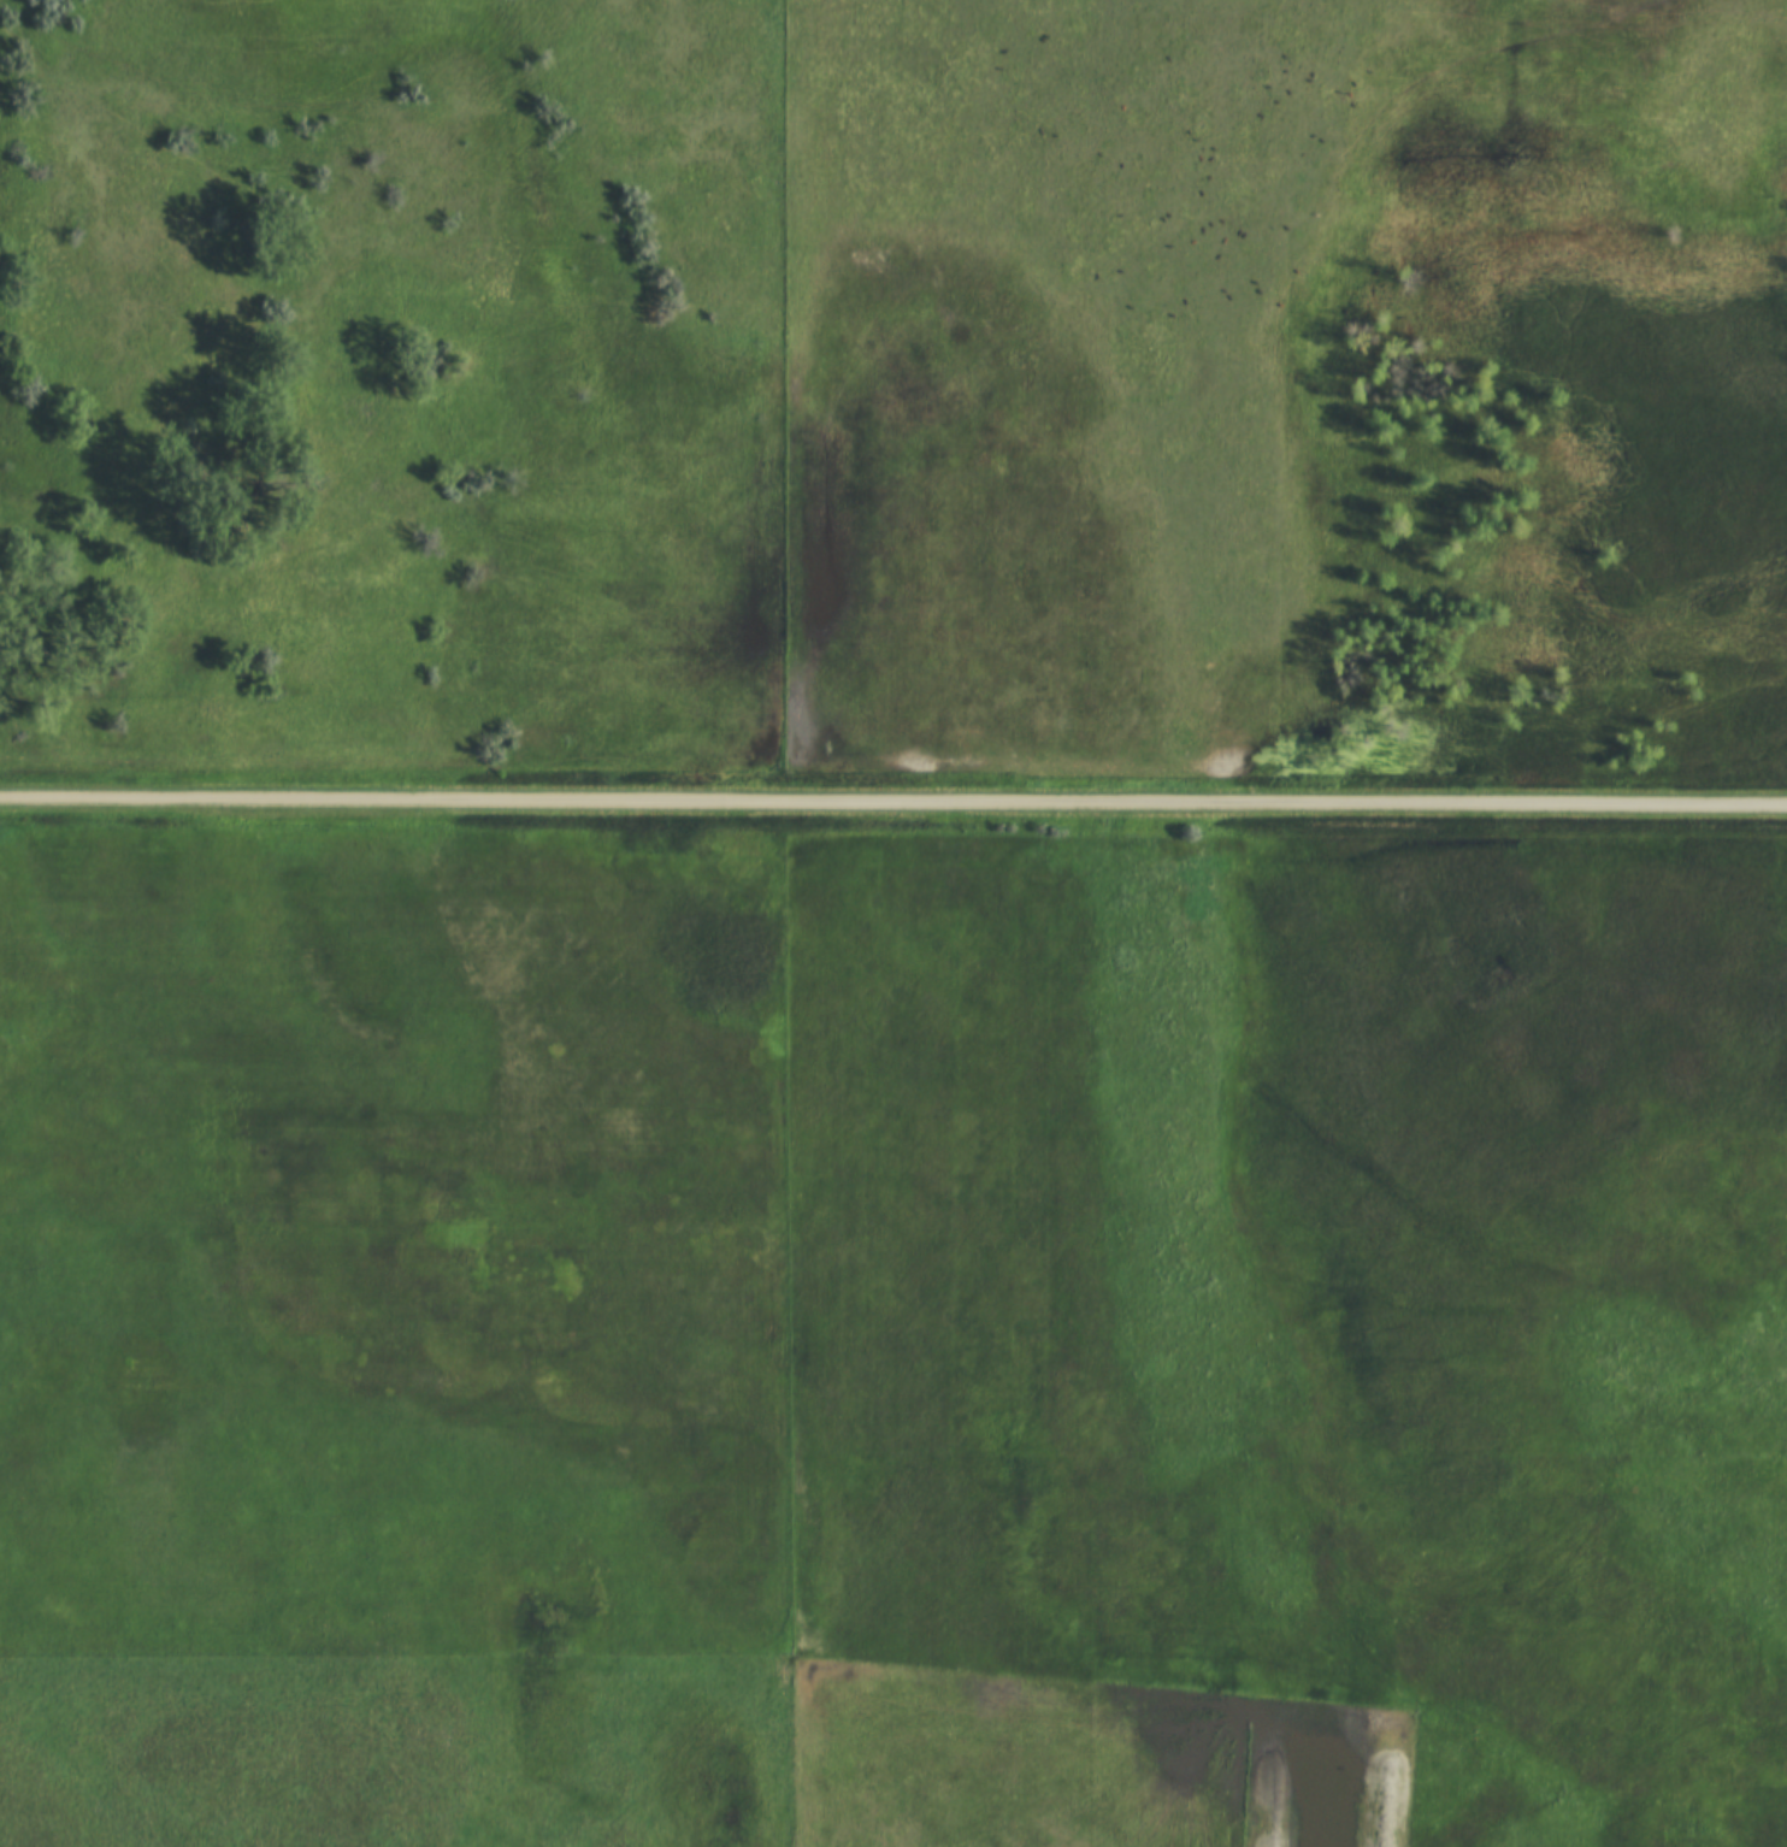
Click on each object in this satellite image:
road: (892, 803)

